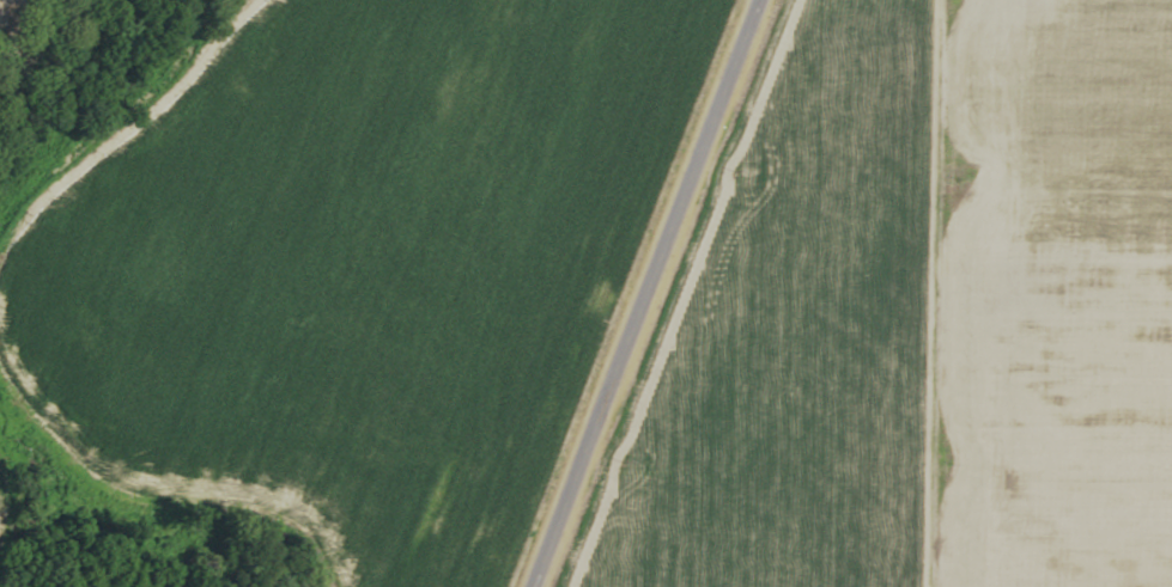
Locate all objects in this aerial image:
road: (656, 293)
road: (959, 293)

